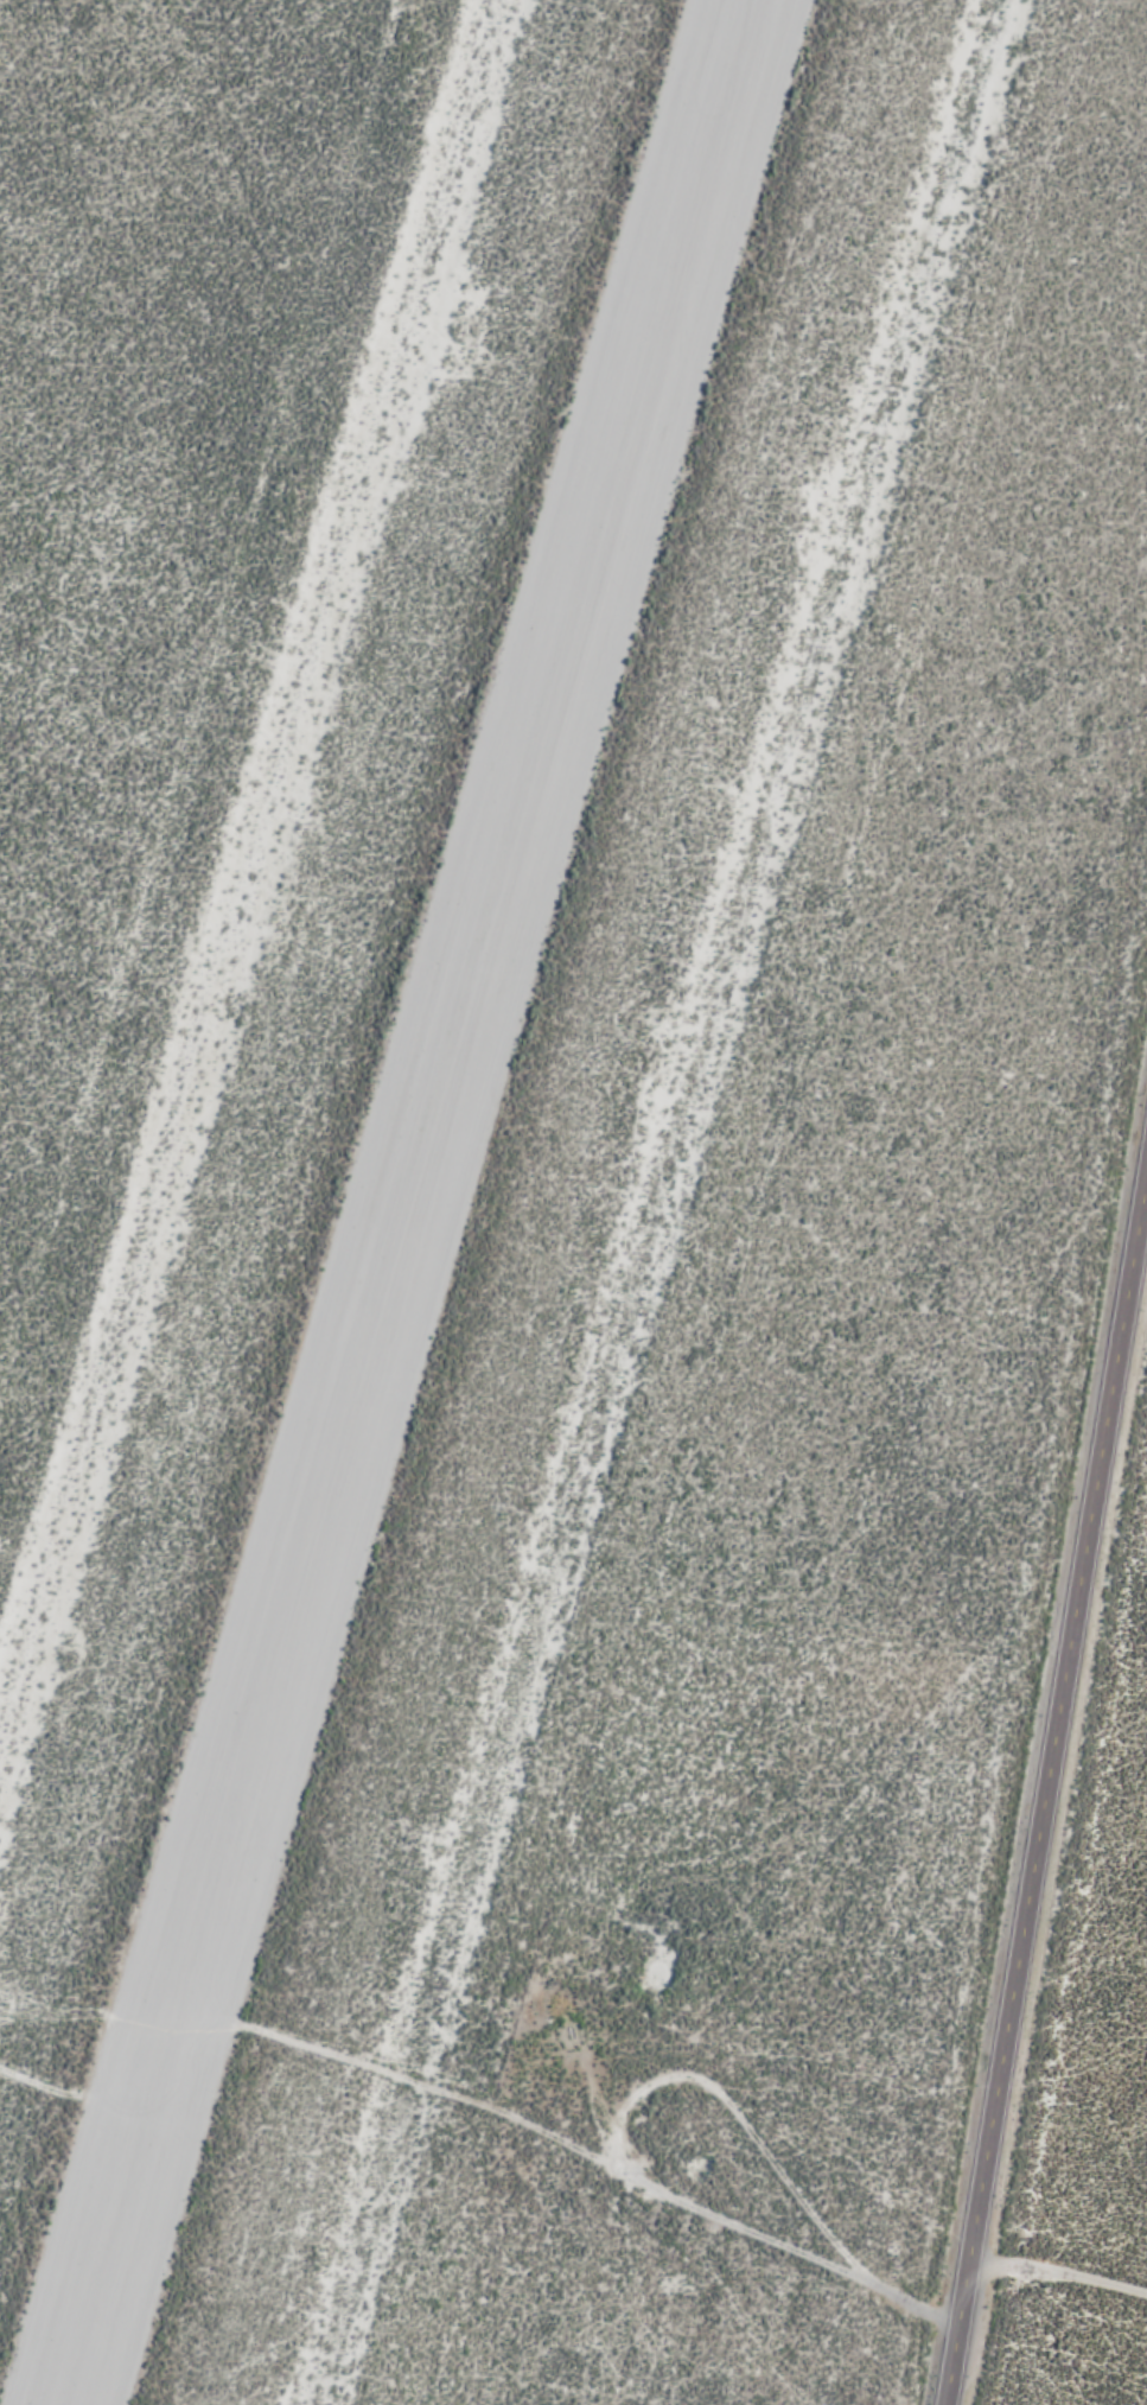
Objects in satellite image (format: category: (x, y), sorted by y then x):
airport runway: (406, 1202)
road: (1045, 1788)
road: (39, 2079)
road: (740, 2114)
road: (575, 2144)
road: (1058, 2270)

